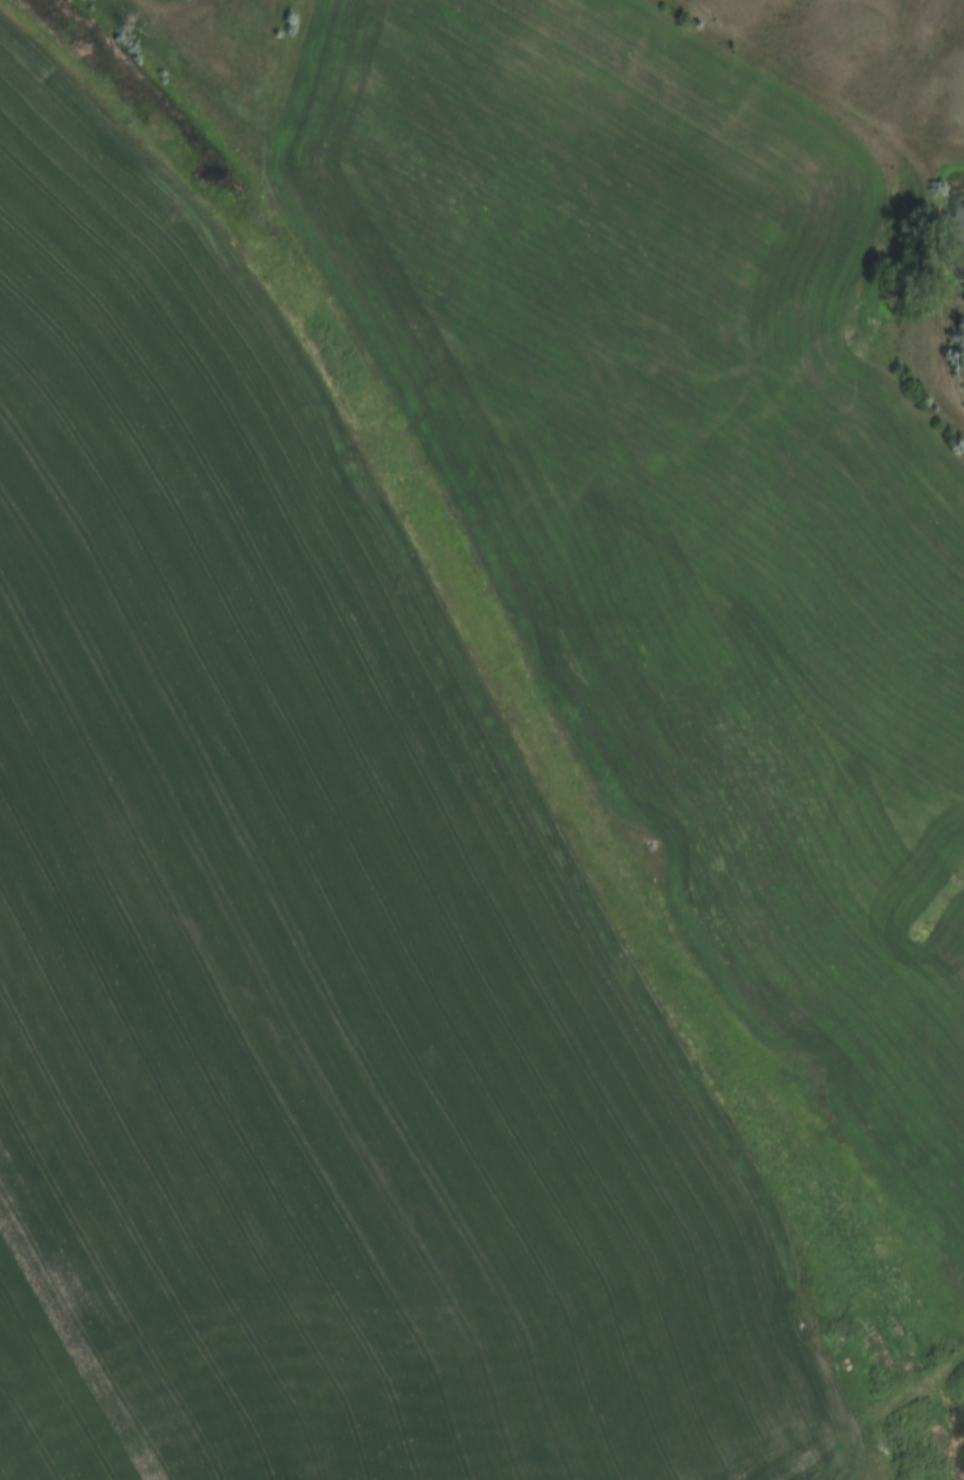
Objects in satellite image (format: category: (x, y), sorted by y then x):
road: (175, 1)
road: (903, 145)
road: (472, 696)
road: (869, 1413)

